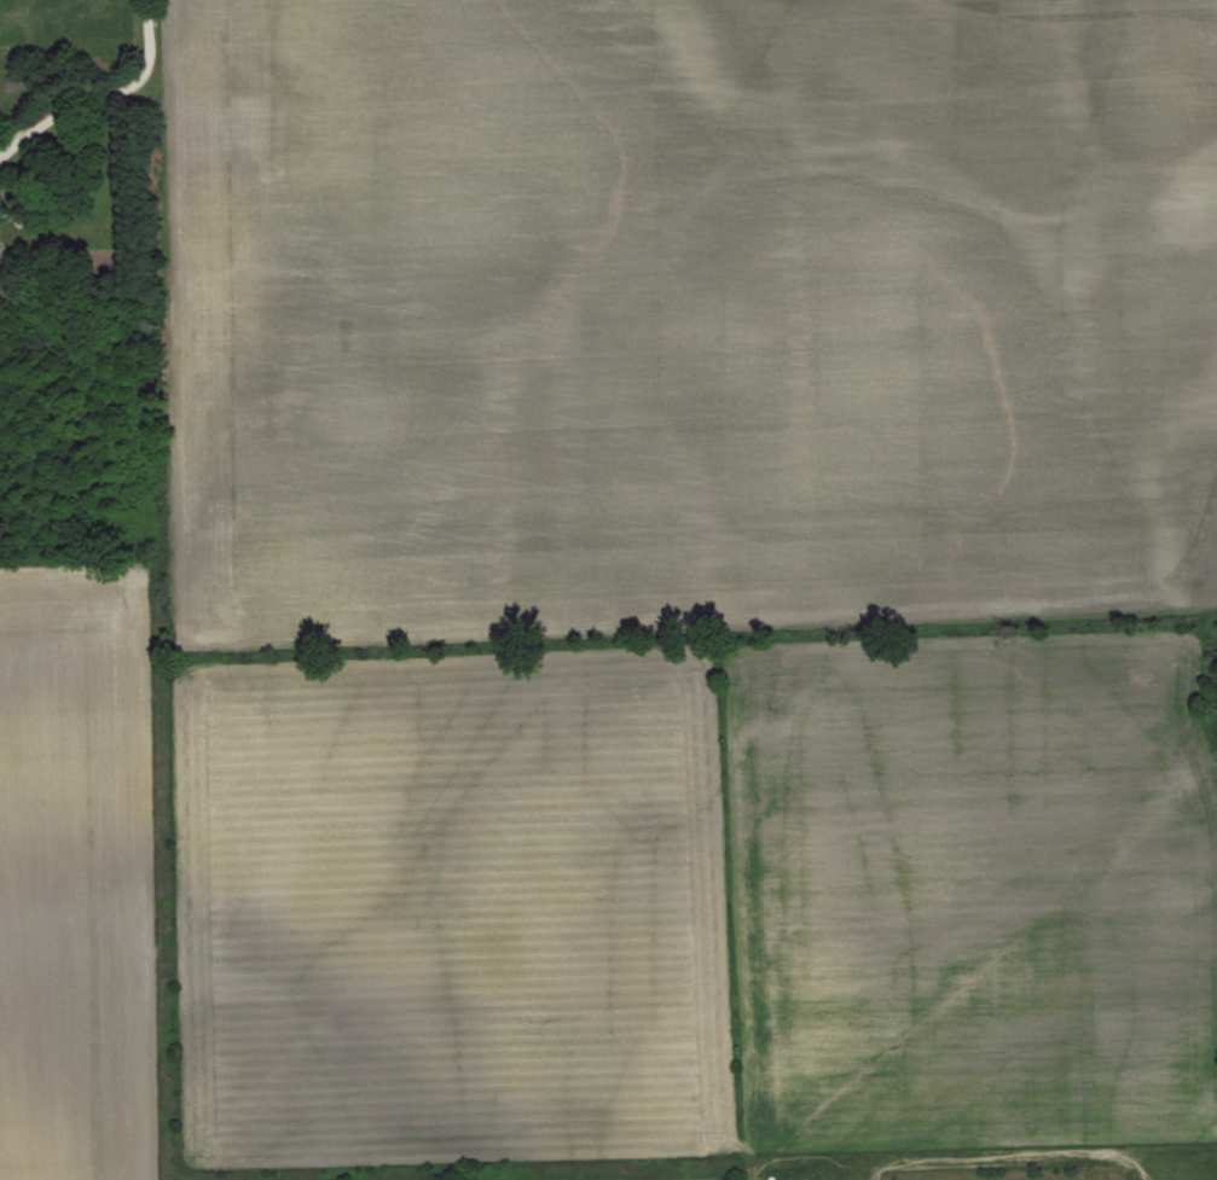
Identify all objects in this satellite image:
road: (102, 94)

